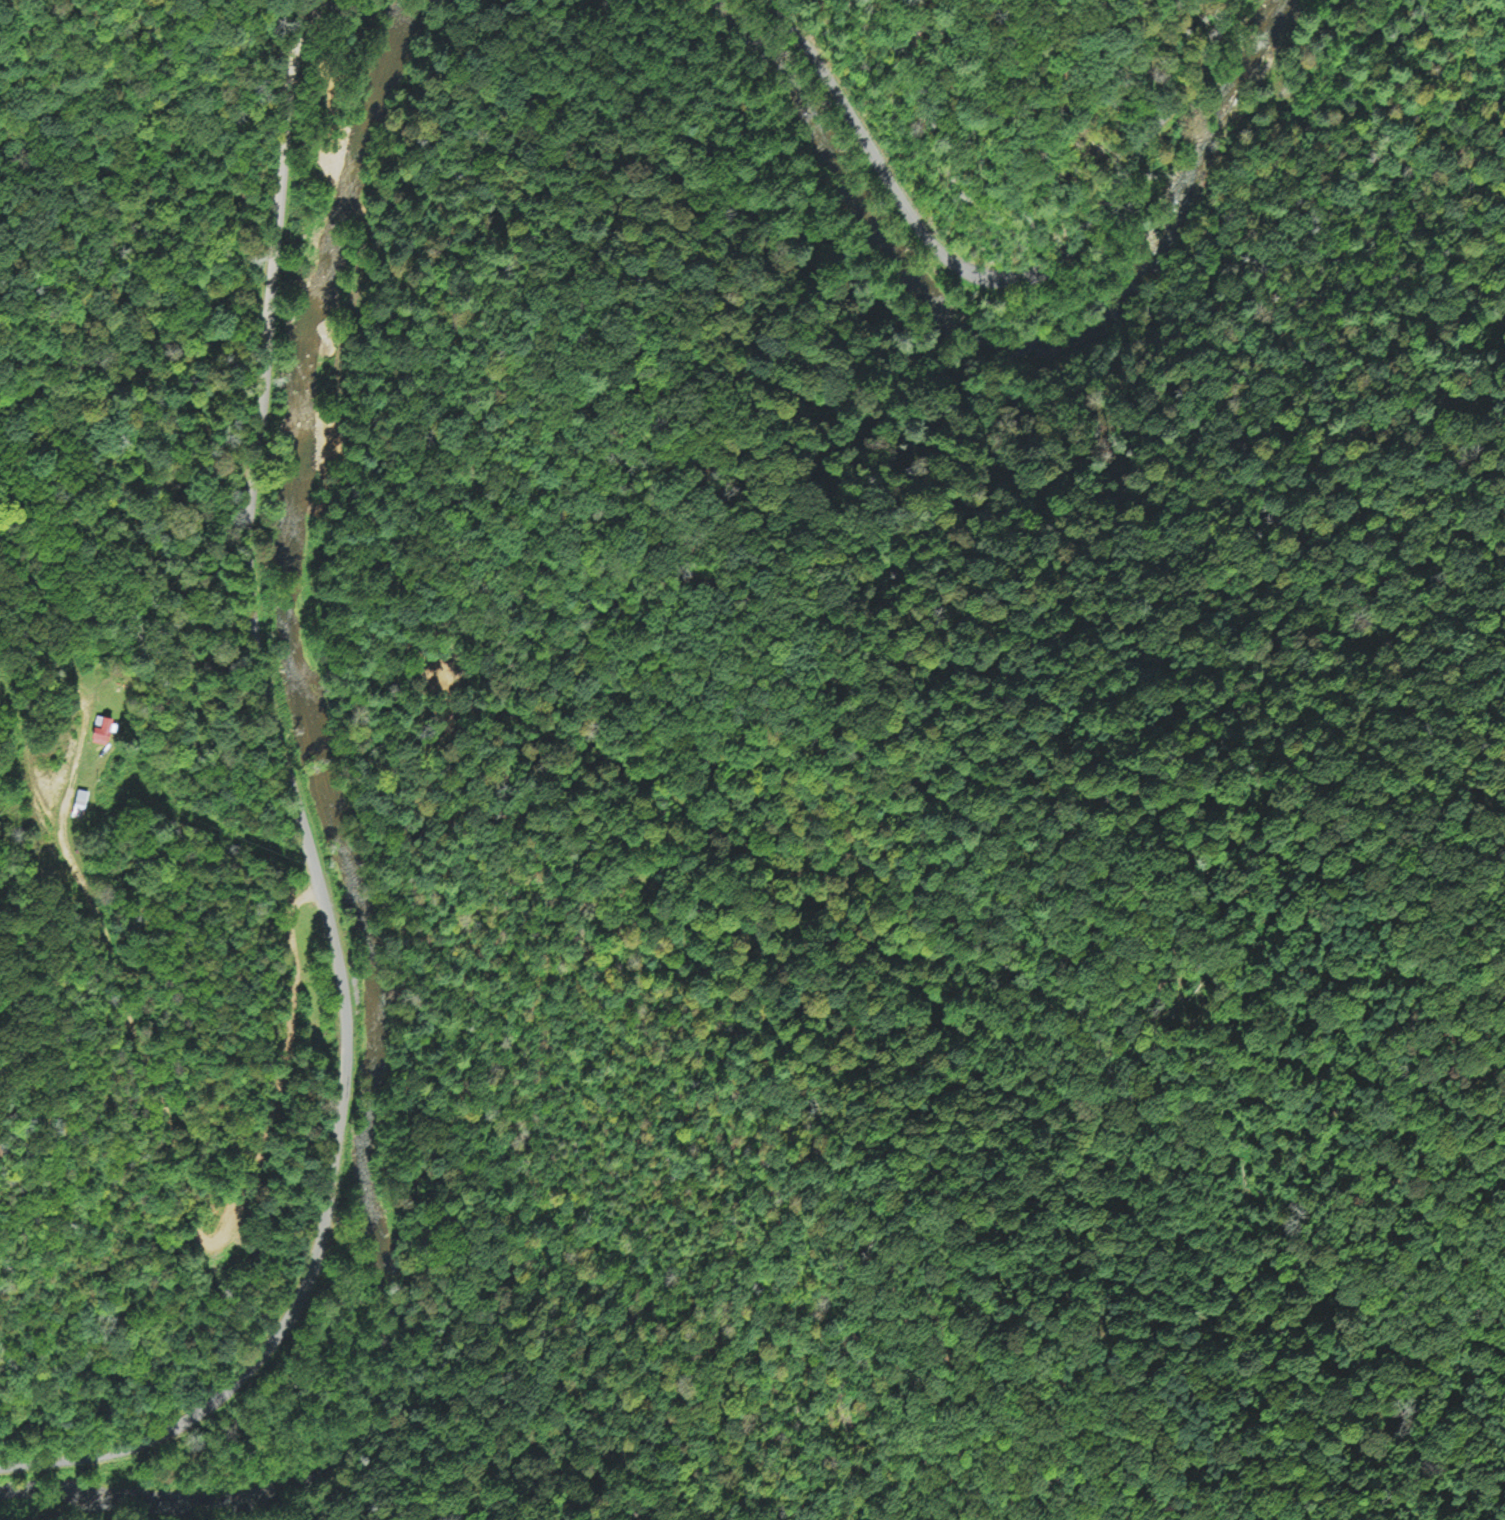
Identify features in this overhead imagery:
road: (860, 137)
road: (1126, 180)
building: (98, 728)
road: (310, 829)
road: (197, 1196)

